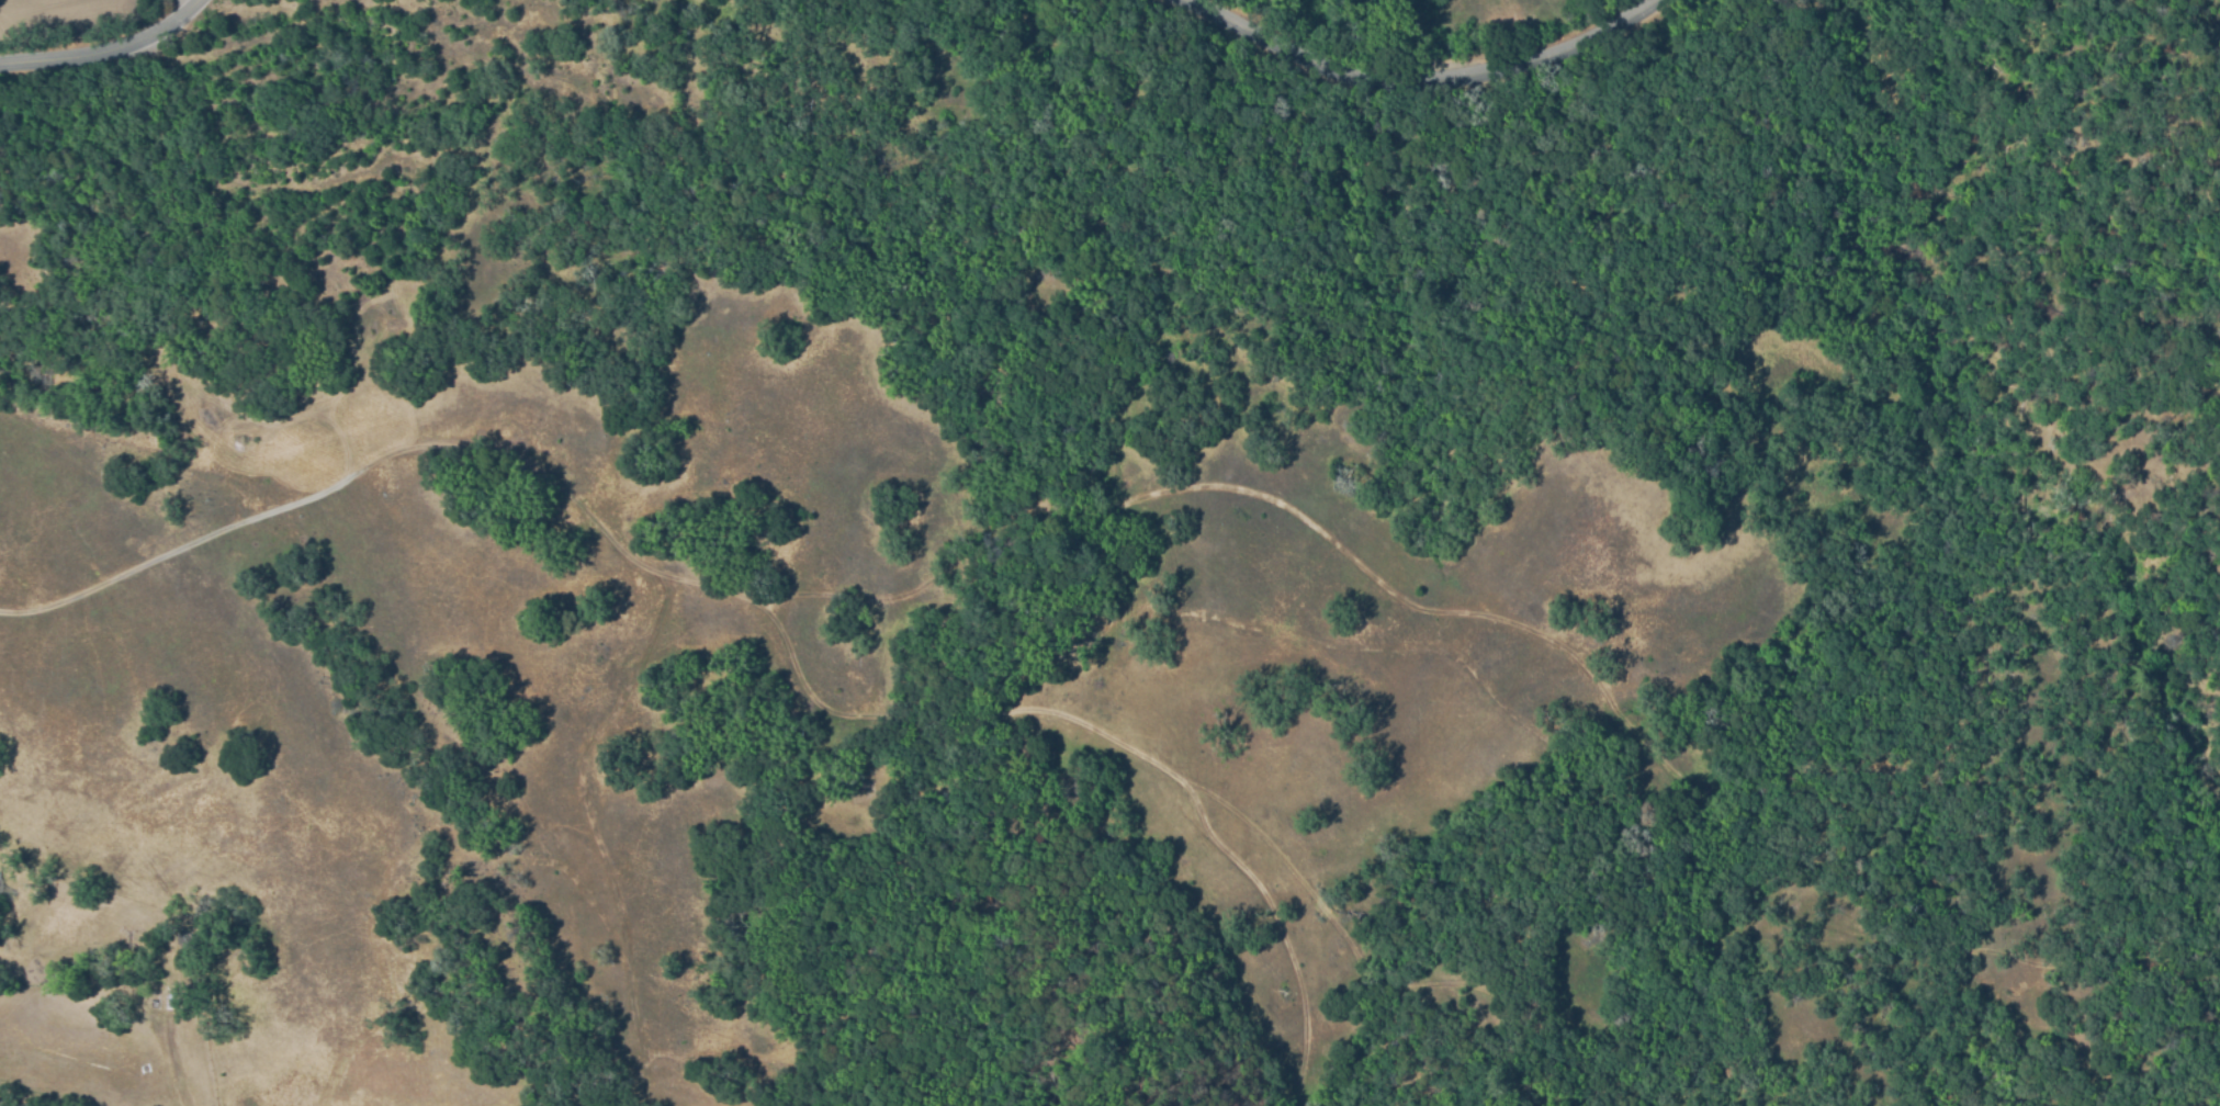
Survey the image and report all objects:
road: (104, 49)
road: (1429, 75)
building: (156, 1005)

